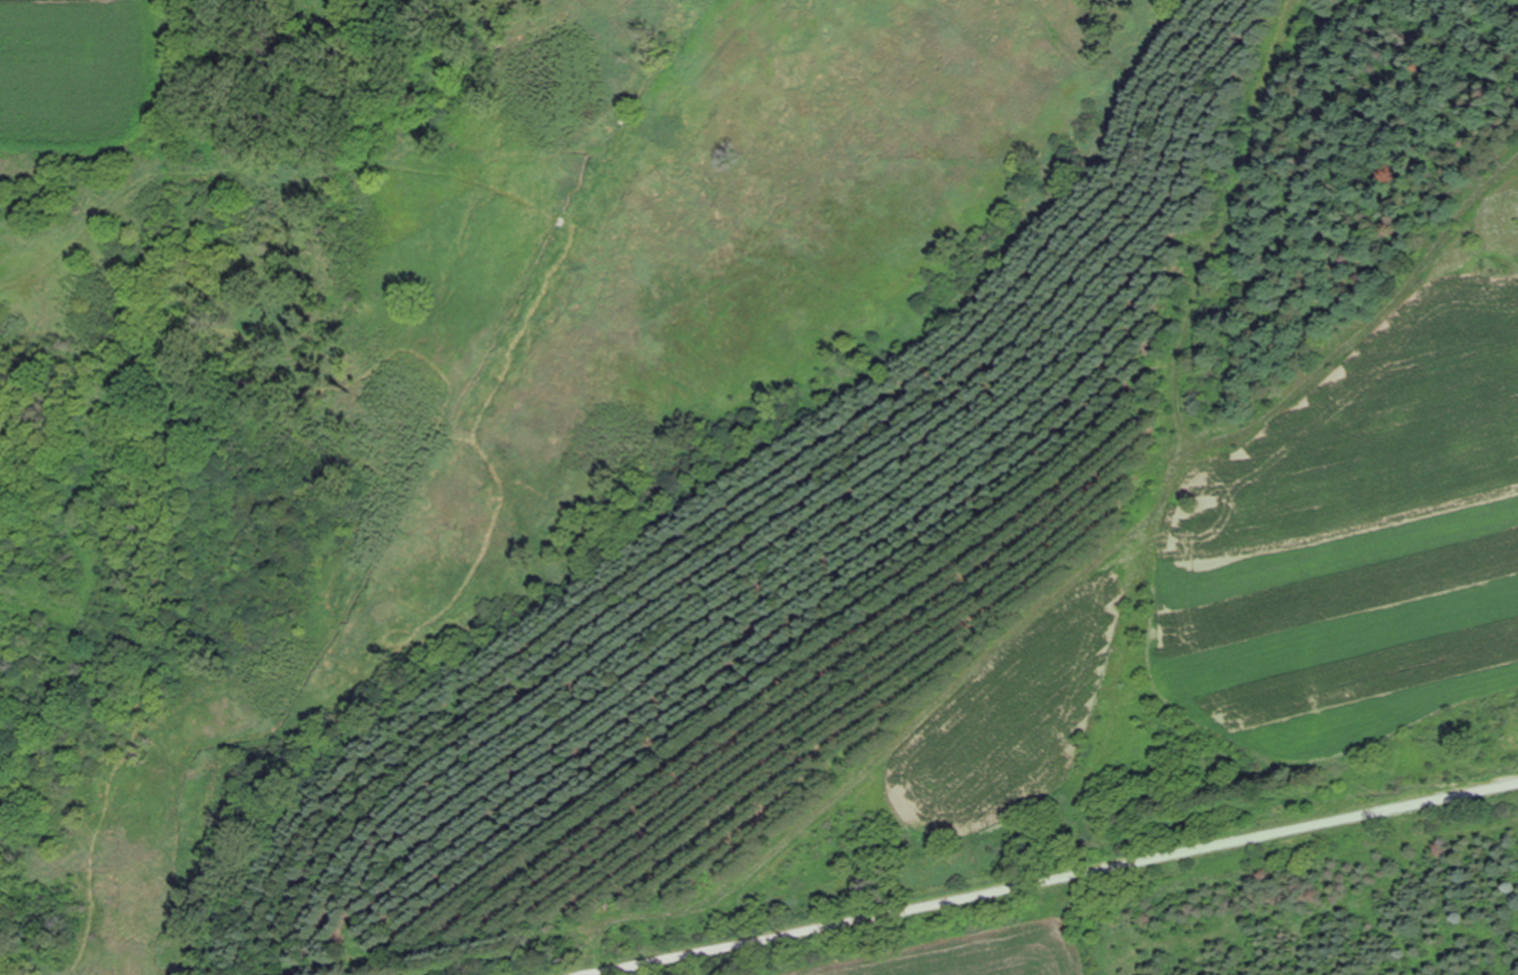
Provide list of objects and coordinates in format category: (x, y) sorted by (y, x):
road: (1040, 878)

